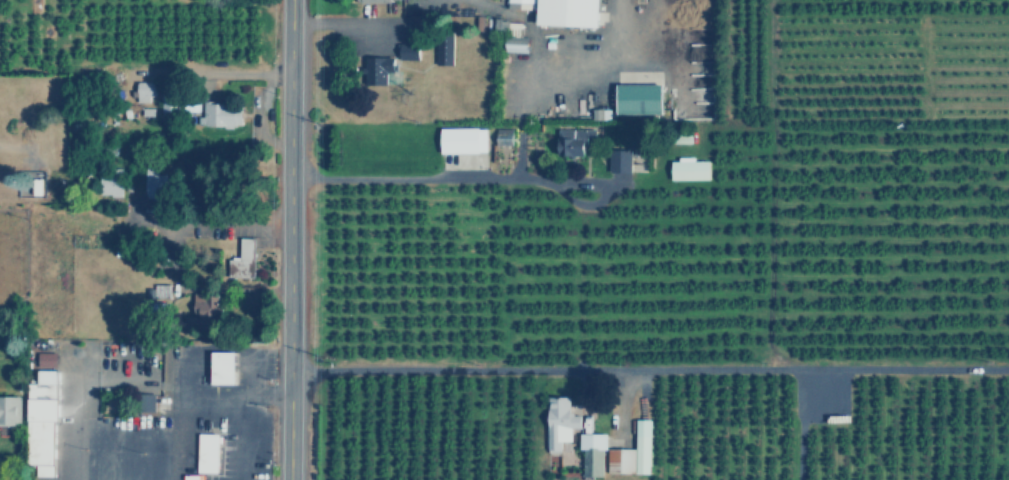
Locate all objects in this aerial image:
building: (370, 0)
building: (522, 4)
building: (569, 12)
road: (345, 22)
building: (440, 48)
building: (409, 50)
building: (377, 69)
building: (146, 91)
building: (639, 98)
building: (220, 114)
building: (504, 136)
building: (572, 139)
building: (463, 140)
building: (620, 160)
building: (686, 167)
road: (445, 179)
building: (108, 181)
building: (154, 182)
road: (209, 223)
road: (289, 240)
building: (241, 258)
building: (206, 303)
building: (47, 359)
building: (219, 366)
road: (650, 367)
road: (630, 389)
building: (143, 401)
building: (8, 409)
building: (40, 423)
building: (558, 423)
road: (800, 423)
building: (206, 452)
building: (589, 453)
building: (630, 454)

